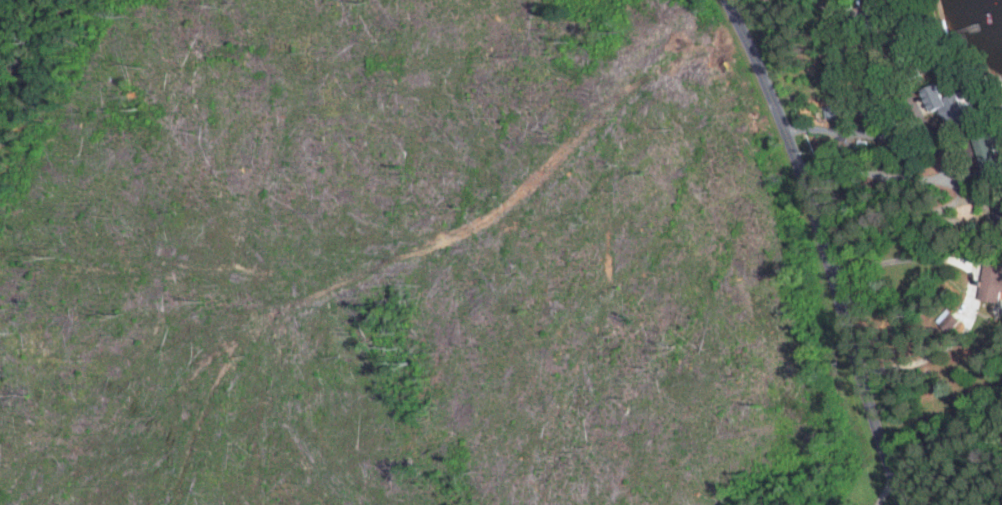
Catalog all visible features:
road: (845, 14)
building: (943, 102)
road: (891, 133)
building: (988, 154)
road: (878, 175)
road: (824, 248)
road: (905, 257)
building: (992, 280)
road: (884, 490)

